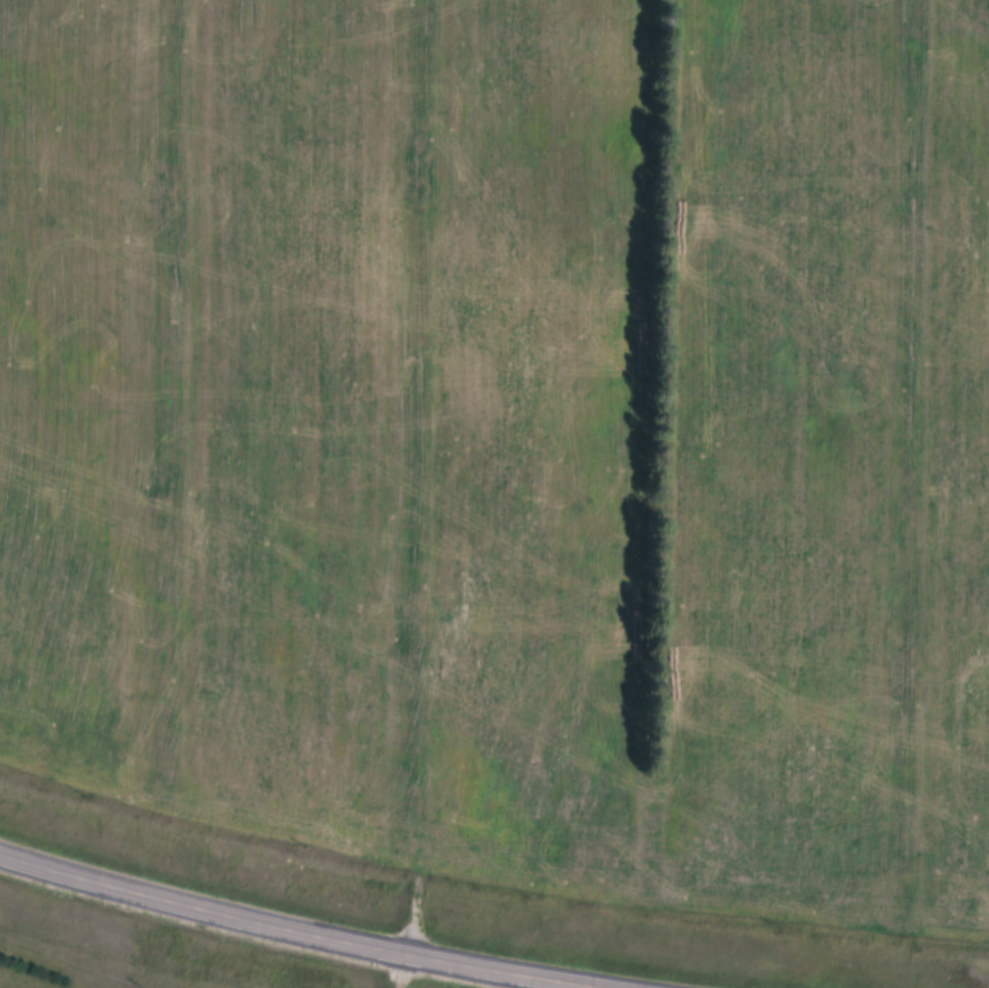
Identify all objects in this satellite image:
road: (318, 931)

